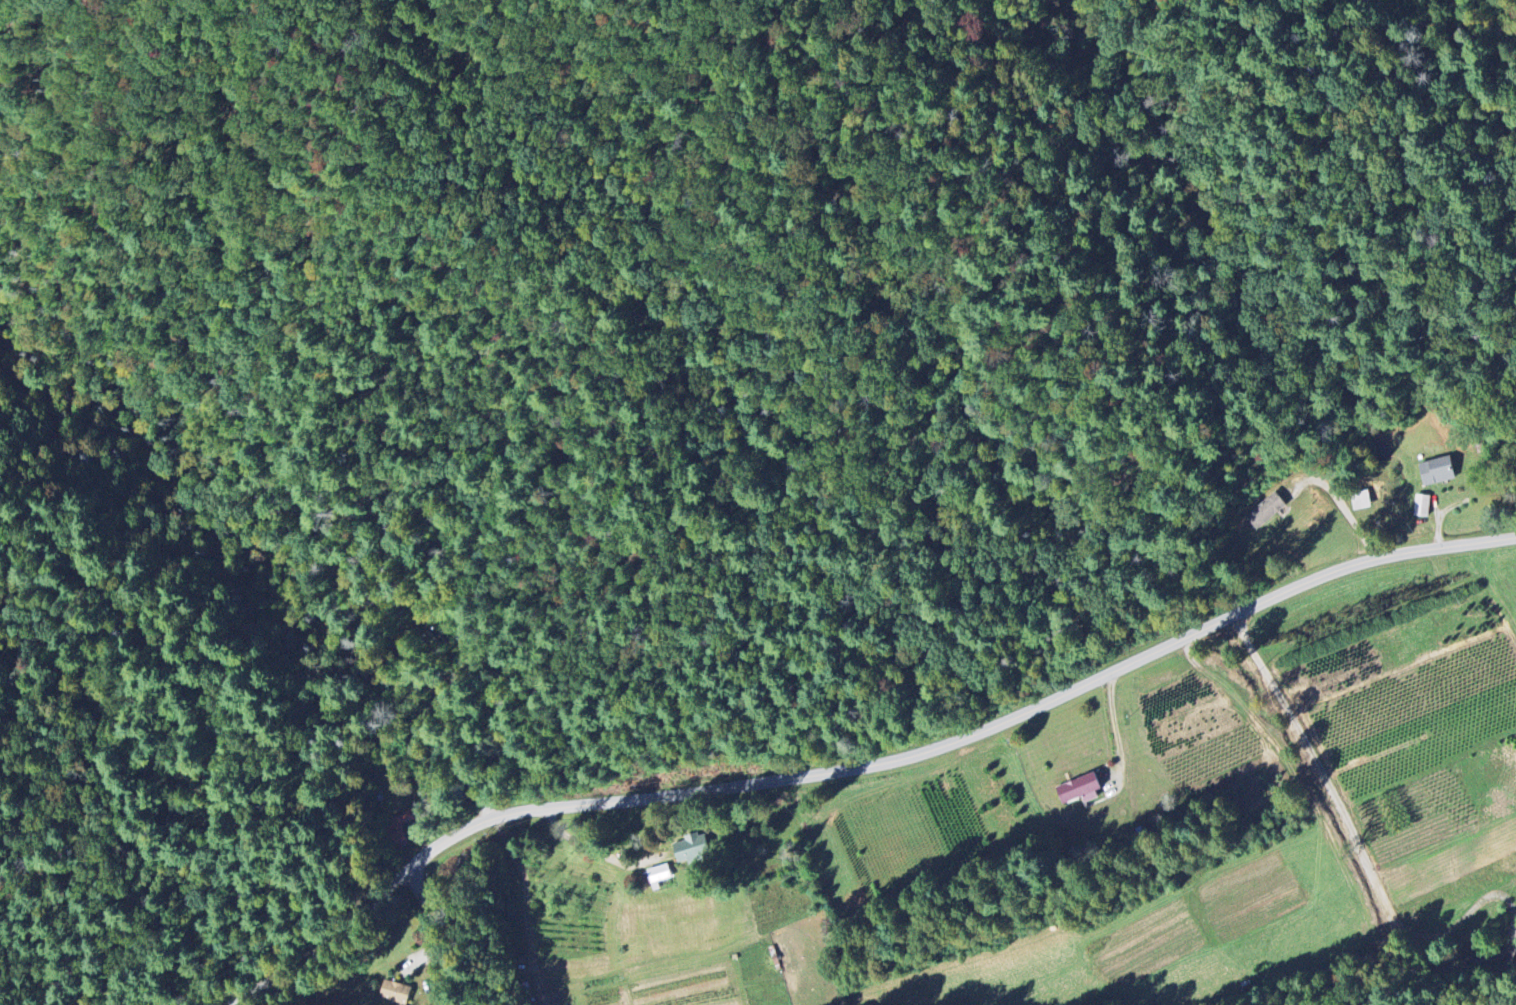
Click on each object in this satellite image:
building: (1425, 470)
building: (1360, 501)
building: (1422, 506)
building: (1265, 511)
road: (956, 741)
building: (1080, 790)
building: (691, 851)
building: (659, 875)
road: (437, 935)
road: (317, 956)
river: (1415, 964)
building: (395, 993)

